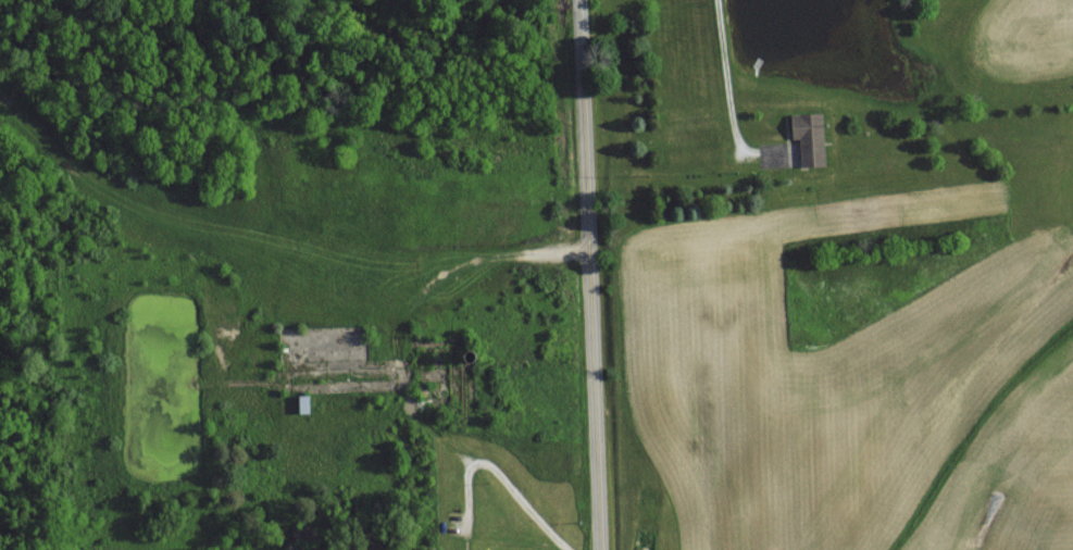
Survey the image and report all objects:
road: (724, 76)
building: (807, 138)
road: (585, 275)
building: (283, 342)
road: (499, 478)

